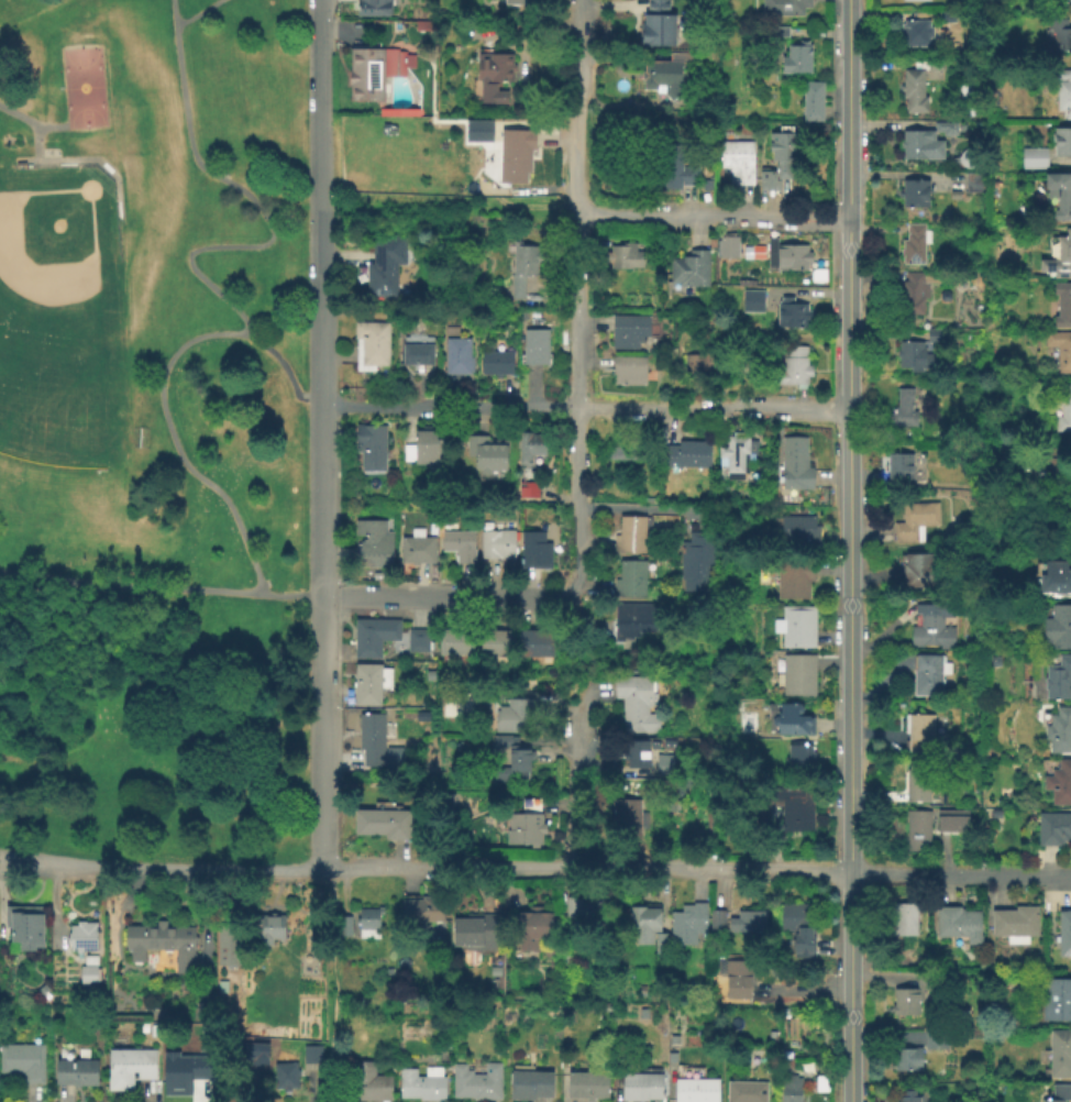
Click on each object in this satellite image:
building: (915, 1)
building: (1057, 1)
building: (517, 2)
building: (656, 5)
building: (783, 8)
building: (372, 9)
road: (194, 13)
building: (946, 18)
building: (428, 24)
building: (656, 31)
building: (780, 32)
building: (915, 33)
building: (1059, 34)
building: (795, 59)
building: (494, 67)
building: (373, 71)
building: (663, 75)
park: (86, 87)
building: (912, 90)
building: (1063, 93)
building: (811, 102)
building: (398, 113)
building: (972, 113)
road: (33, 122)
building: (478, 129)
building: (387, 131)
building: (926, 140)
building: (1061, 142)
road: (576, 148)
building: (515, 155)
building: (1034, 158)
road: (82, 159)
building: (736, 161)
building: (781, 161)
building: (669, 167)
building: (973, 184)
building: (705, 186)
building: (913, 195)
building: (1059, 195)
building: (953, 196)
road: (320, 201)
road: (446, 208)
road: (713, 217)
building: (914, 245)
building: (727, 249)
building: (1059, 254)
building: (625, 256)
building: (782, 257)
building: (382, 266)
building: (526, 267)
building: (688, 269)
road: (218, 291)
building: (910, 298)
building: (752, 302)
building: (1062, 306)
building: (790, 315)
park: (48, 331)
building: (628, 331)
building: (935, 337)
building: (369, 345)
building: (534, 348)
park: (15, 351)
building: (416, 351)
building: (1060, 351)
building: (455, 356)
building: (914, 359)
building: (494, 361)
building: (792, 367)
road: (285, 370)
building: (697, 370)
building: (627, 371)
road: (449, 405)
road: (713, 408)
building: (1062, 408)
building: (902, 410)
park: (152, 431)
road: (577, 444)
building: (371, 447)
building: (529, 447)
building: (422, 449)
building: (627, 449)
building: (486, 453)
building: (687, 455)
building: (732, 458)
building: (795, 467)
building: (898, 470)
building: (1051, 470)
building: (527, 488)
road: (321, 499)
building: (649, 502)
road: (642, 511)
building: (914, 524)
building: (1061, 527)
building: (797, 532)
building: (630, 537)
building: (373, 546)
building: (459, 546)
building: (496, 546)
building: (417, 548)
road: (849, 550)
building: (533, 551)
building: (697, 560)
building: (919, 573)
building: (792, 578)
building: (629, 580)
building: (1055, 581)
road: (446, 596)
road: (159, 603)
building: (630, 622)
building: (796, 628)
building: (931, 629)
building: (1058, 629)
building: (372, 637)
building: (416, 641)
building: (455, 642)
building: (532, 644)
building: (493, 648)
building: (399, 649)
building: (994, 663)
building: (796, 676)
building: (926, 677)
building: (1057, 681)
road: (321, 684)
building: (368, 685)
building: (636, 705)
building: (516, 718)
building: (793, 721)
building: (1059, 731)
building: (918, 734)
building: (371, 742)
building: (636, 756)
building: (799, 761)
building: (663, 762)
building: (512, 763)
road: (581, 776)
building: (916, 783)
building: (1059, 784)
building: (678, 791)
building: (793, 805)
building: (711, 815)
building: (951, 819)
road: (321, 820)
building: (625, 822)
building: (384, 825)
building: (525, 826)
building: (923, 828)
building: (1052, 829)
building: (730, 830)
road: (941, 857)
road: (46, 867)
road: (450, 868)
road: (715, 868)
road: (161, 870)
road: (274, 872)
road: (960, 875)
building: (587, 906)
building: (421, 911)
building: (369, 919)
building: (903, 919)
building: (715, 922)
building: (747, 923)
building: (958, 924)
building: (1015, 924)
building: (686, 925)
building: (343, 926)
building: (641, 926)
building: (796, 927)
building: (265, 928)
building: (23, 929)
building: (530, 929)
building: (473, 933)
building: (1063, 935)
building: (81, 938)
building: (660, 941)
building: (170, 943)
building: (227, 943)
building: (294, 958)
building: (568, 962)
building: (552, 967)
building: (87, 971)
building: (735, 978)
road: (331, 984)
road: (810, 990)
building: (41, 991)
building: (640, 991)
building: (910, 995)
building: (1056, 1001)
building: (642, 1014)
building: (771, 1036)
building: (935, 1037)
building: (673, 1042)
building: (256, 1051)
building: (310, 1055)
building: (1060, 1055)
building: (906, 1060)
building: (23, 1064)
building: (130, 1068)
building: (181, 1071)
building: (74, 1073)
building: (285, 1078)
building: (479, 1081)
building: (532, 1082)
building: (424, 1083)
building: (643, 1083)
building: (366, 1084)
building: (590, 1084)
building: (694, 1086)
building: (790, 1088)
building: (744, 1092)
building: (1061, 1093)
building: (903, 1098)

